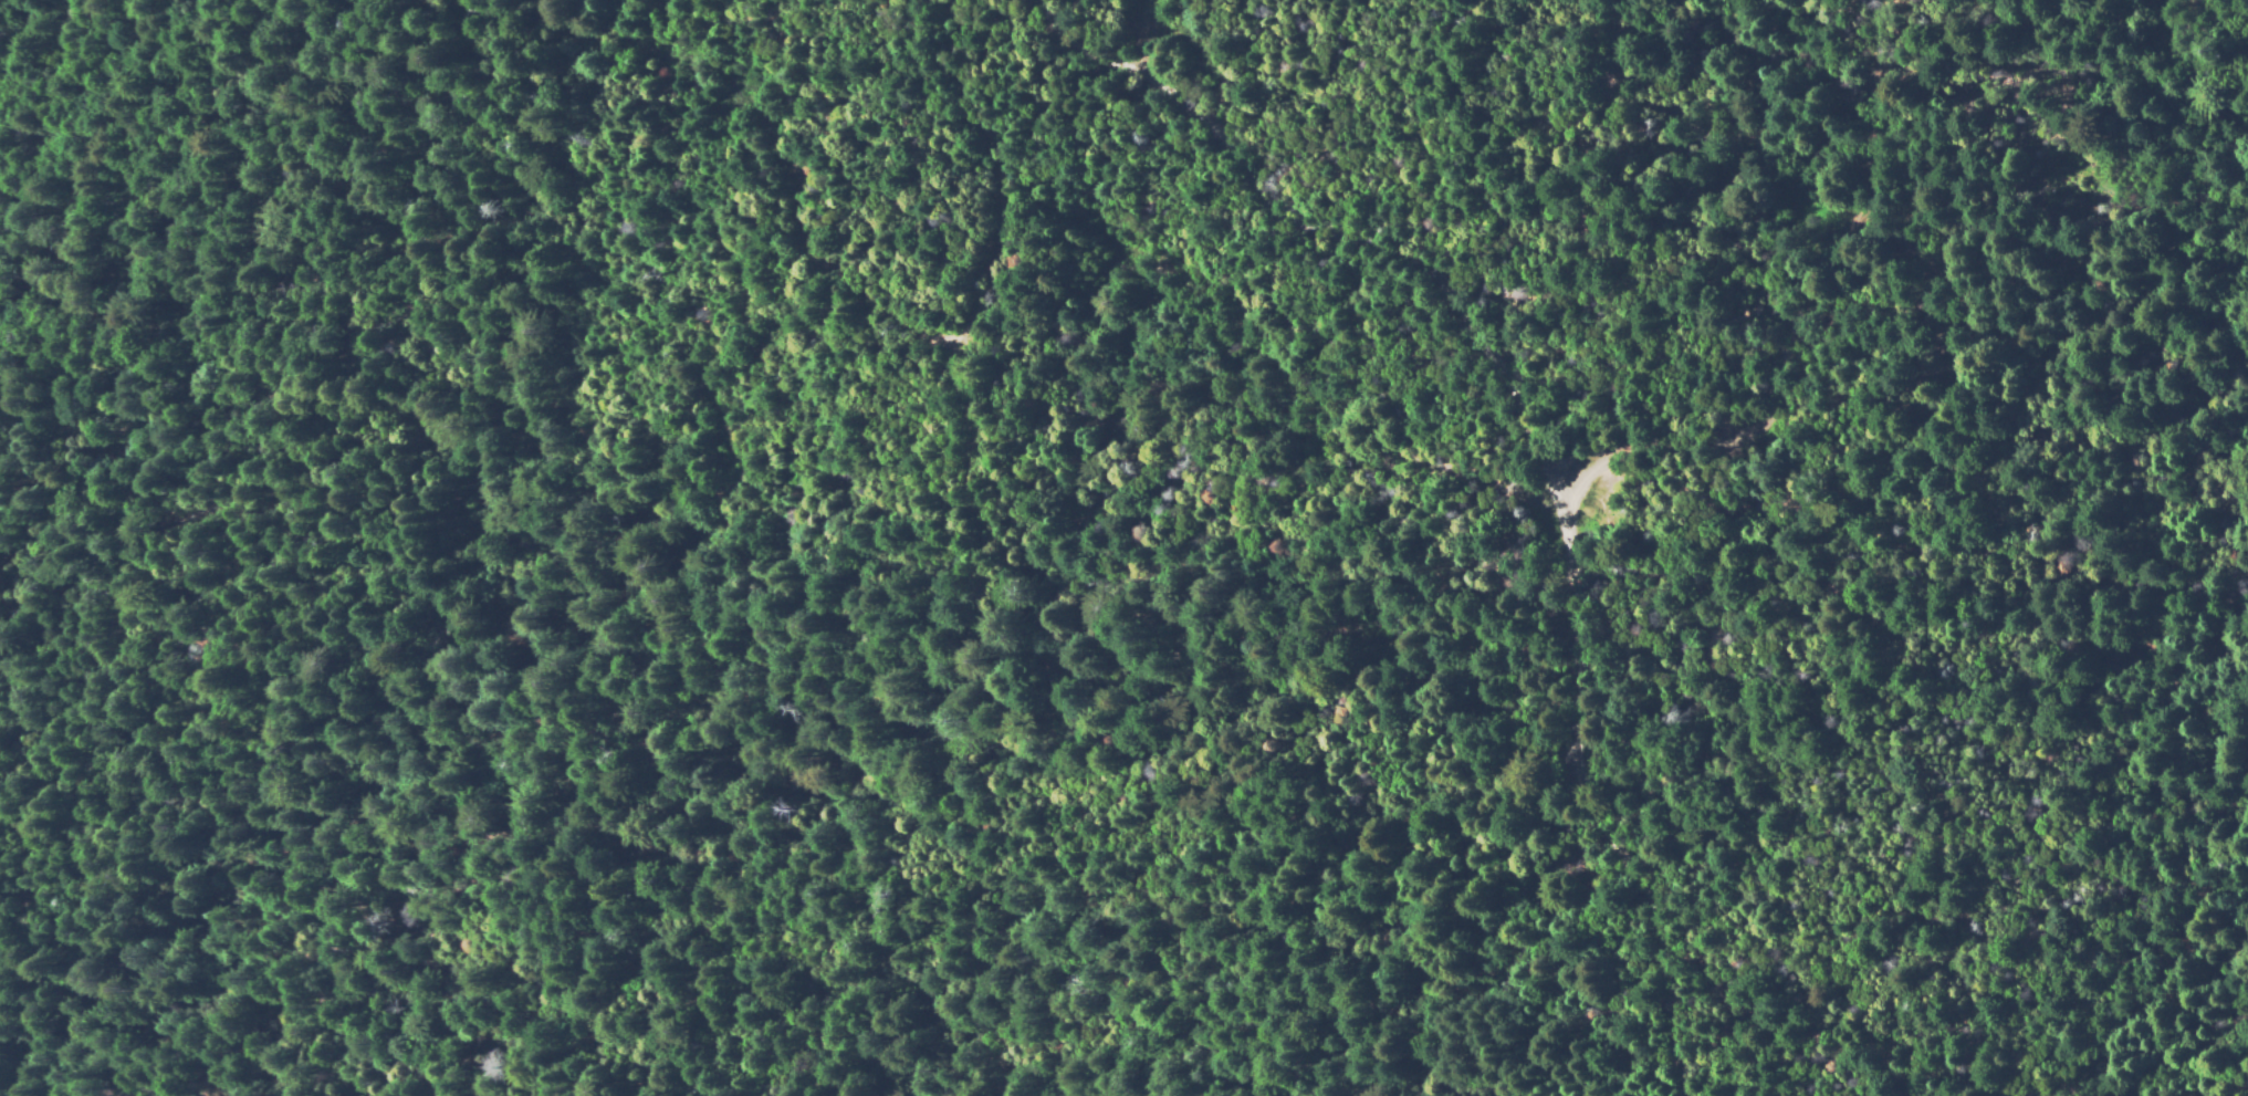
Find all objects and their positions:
road: (1568, 494)

